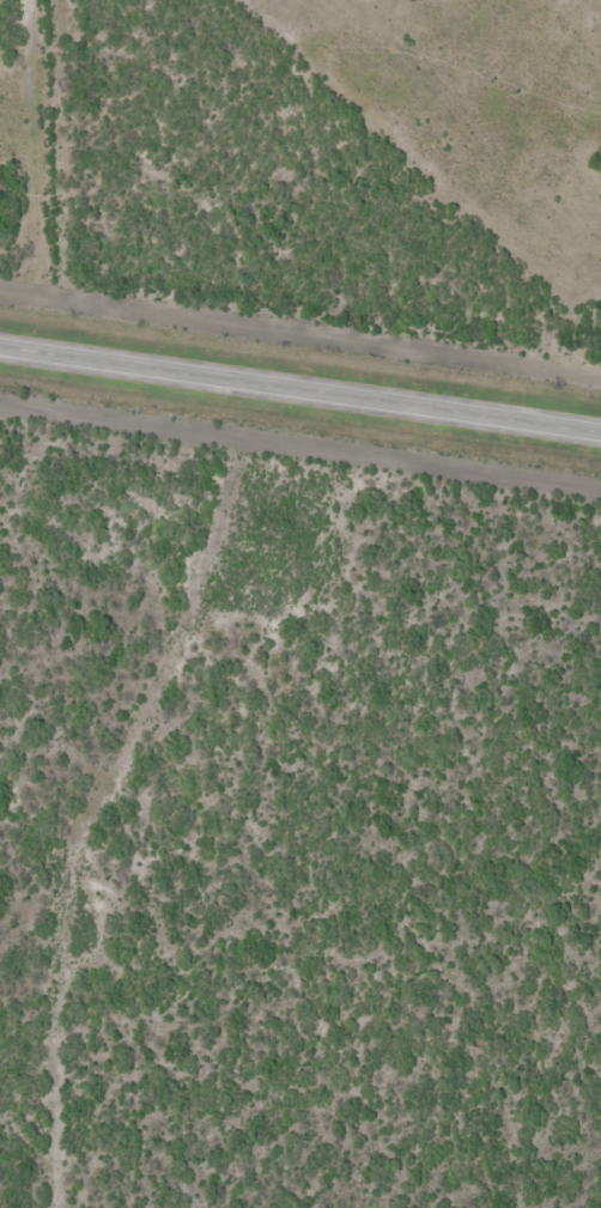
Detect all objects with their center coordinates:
road: (299, 400)

